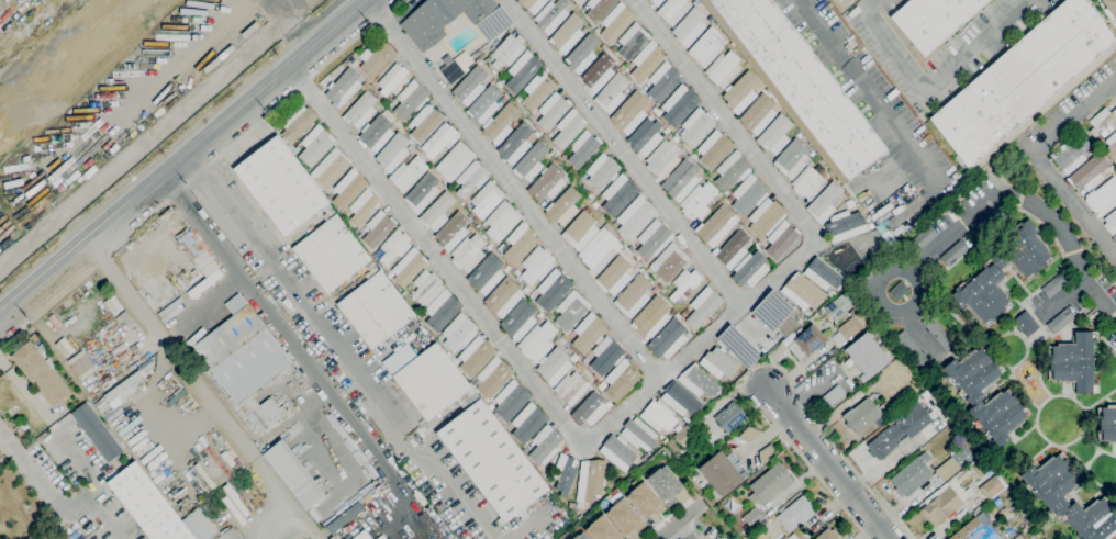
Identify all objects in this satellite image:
building: (580, 1)
building: (656, 2)
building: (527, 3)
building: (1111, 7)
building: (599, 9)
building: (672, 10)
building: (550, 15)
building: (440, 19)
building: (934, 20)
building: (616, 22)
road: (289, 23)
building: (689, 26)
building: (491, 30)
building: (566, 31)
building: (632, 42)
building: (730, 44)
building: (602, 47)
building: (706, 47)
building: (507, 50)
building: (582, 54)
building: (376, 56)
building: (646, 61)
building: (345, 63)
building: (355, 64)
building: (616, 66)
building: (456, 67)
building: (621, 69)
building: (723, 69)
building: (522, 70)
building: (493, 71)
building: (598, 72)
road: (933, 78)
building: (502, 79)
building: (393, 80)
building: (662, 81)
building: (1024, 82)
building: (797, 83)
building: (469, 86)
building: (343, 87)
building: (644, 87)
road: (863, 88)
building: (537, 90)
building: (740, 92)
building: (611, 93)
building: (410, 100)
building: (393, 102)
building: (483, 104)
building: (679, 105)
building: (360, 110)
building: (553, 110)
building: (658, 112)
building: (629, 113)
building: (758, 114)
road: (224, 119)
road: (726, 120)
building: (1103, 122)
building: (297, 123)
building: (425, 123)
building: (499, 124)
building: (696, 127)
building: (568, 128)
road: (249, 130)
building: (666, 131)
building: (376, 133)
building: (676, 134)
building: (799, 134)
building: (774, 135)
building: (646, 136)
building: (440, 139)
building: (674, 139)
road: (143, 141)
building: (515, 144)
building: (314, 145)
building: (1111, 146)
building: (582, 148)
building: (714, 149)
building: (295, 150)
building: (392, 153)
road: (623, 154)
building: (812, 154)
building: (1070, 155)
building: (562, 158)
building: (792, 158)
building: (662, 159)
road: (1038, 160)
building: (454, 161)
building: (531, 162)
building: (331, 167)
building: (1115, 168)
building: (732, 170)
building: (602, 171)
building: (1089, 172)
building: (408, 173)
building: (576, 175)
building: (1115, 176)
building: (470, 180)
building: (681, 180)
building: (808, 182)
building: (547, 183)
building: (279, 186)
building: (348, 189)
road: (514, 190)
building: (422, 193)
building: (748, 194)
building: (846, 194)
building: (618, 195)
building: (719, 195)
building: (1103, 198)
building: (487, 199)
building: (722, 200)
building: (697, 201)
building: (824, 203)
building: (594, 204)
building: (362, 206)
building: (562, 206)
road: (983, 209)
building: (437, 212)
building: (995, 216)
building: (635, 217)
building: (766, 217)
building: (502, 221)
building: (1111, 222)
building: (870, 225)
building: (717, 226)
building: (845, 226)
building: (378, 229)
building: (580, 229)
building: (923, 237)
building: (780, 238)
building: (654, 239)
building: (1115, 242)
building: (520, 243)
building: (759, 243)
building: (393, 247)
building: (632, 247)
building: (732, 249)
building: (599, 250)
building: (468, 252)
building: (953, 252)
building: (332, 254)
road: (436, 256)
building: (199, 259)
building: (670, 261)
building: (536, 266)
building: (409, 267)
building: (506, 269)
building: (749, 269)
road: (46, 270)
building: (516, 272)
building: (1002, 272)
building: (487, 274)
building: (614, 274)
building: (822, 274)
building: (684, 282)
road: (289, 283)
building: (1054, 285)
building: (660, 287)
building: (426, 288)
road: (878, 288)
building: (655, 289)
building: (525, 290)
building: (553, 290)
building: (899, 291)
building: (803, 292)
building: (687, 293)
building: (633, 295)
building: (502, 297)
road: (1063, 300)
road: (4, 305)
building: (112, 305)
building: (839, 305)
building: (703, 306)
building: (375, 308)
building: (442, 311)
building: (571, 311)
building: (672, 312)
building: (422, 314)
building: (539, 315)
building: (650, 317)
building: (518, 321)
building: (1060, 322)
building: (853, 323)
building: (1026, 323)
building: (788, 325)
road: (279, 328)
building: (458, 332)
building: (588, 333)
building: (938, 333)
road: (11, 337)
building: (668, 339)
building: (537, 341)
building: (562, 341)
building: (804, 343)
road: (701, 344)
road: (167, 345)
building: (64, 347)
building: (911, 348)
building: (476, 356)
building: (605, 356)
building: (866, 356)
building: (579, 357)
building: (451, 358)
building: (244, 361)
building: (718, 362)
building: (1074, 362)
building: (81, 364)
road: (763, 364)
building: (146, 366)
building: (554, 366)
building: (578, 366)
building: (40, 373)
building: (493, 377)
building: (595, 377)
building: (621, 380)
building: (431, 382)
building: (473, 382)
building: (697, 382)
building: (871, 382)
building: (596, 383)
building: (123, 385)
building: (601, 385)
building: (571, 389)
building: (832, 397)
building: (1003, 398)
building: (681, 400)
building: (511, 401)
building: (490, 407)
building: (590, 408)
building: (107, 409)
building: (658, 416)
building: (861, 416)
building: (729, 417)
building: (12, 423)
building: (527, 423)
building: (1106, 424)
building: (96, 431)
building: (901, 431)
building: (638, 434)
building: (748, 434)
building: (685, 437)
building: (545, 445)
building: (617, 452)
building: (766, 454)
building: (1, 459)
building: (492, 460)
building: (953, 463)
road: (832, 464)
building: (1, 465)
road: (440, 472)
building: (565, 473)
building: (723, 473)
building: (292, 474)
building: (913, 474)
building: (589, 481)
building: (770, 483)
building: (662, 484)
building: (991, 489)
building: (970, 491)
road: (275, 493)
road: (54, 496)
building: (1048, 496)
building: (643, 501)
building: (146, 505)
building: (940, 505)
building: (796, 513)
building: (1006, 515)
building: (623, 517)
building: (751, 517)
road: (681, 521)
road: (526, 527)
building: (601, 529)
building: (973, 531)
road: (684, 532)
building: (827, 534)
building: (231, 535)
building: (360, 536)
building: (579, 536)
building: (1019, 536)
building: (784, 538)
building: (1042, 538)
building: (1045, 538)

